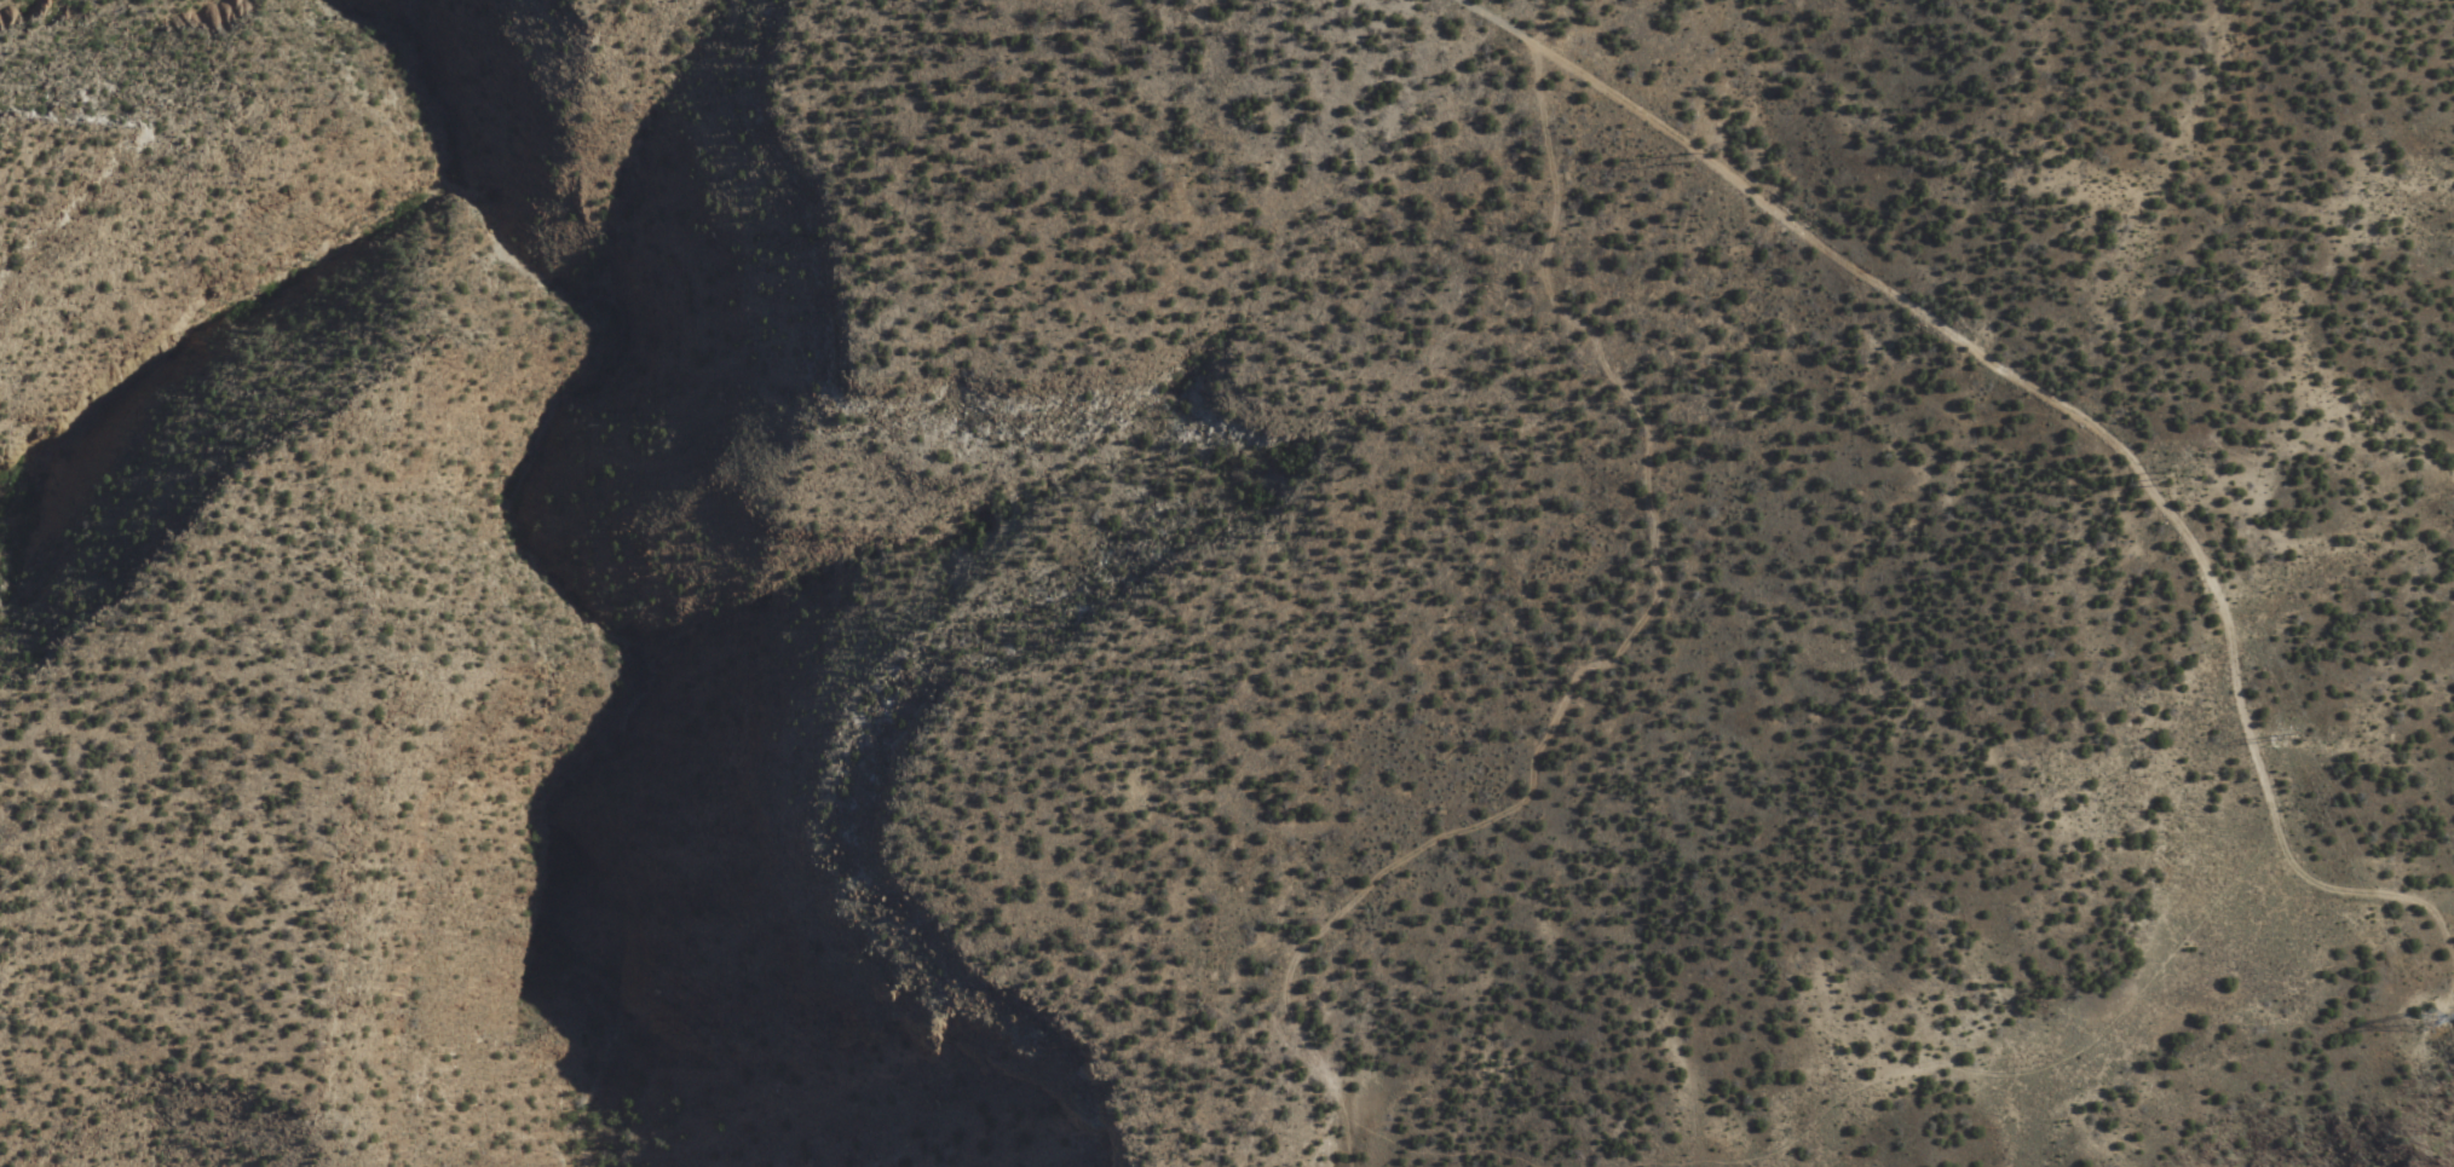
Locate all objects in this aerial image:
road: (2047, 415)
road: (2322, 550)
road: (1614, 659)
power tower: (2413, 1024)

